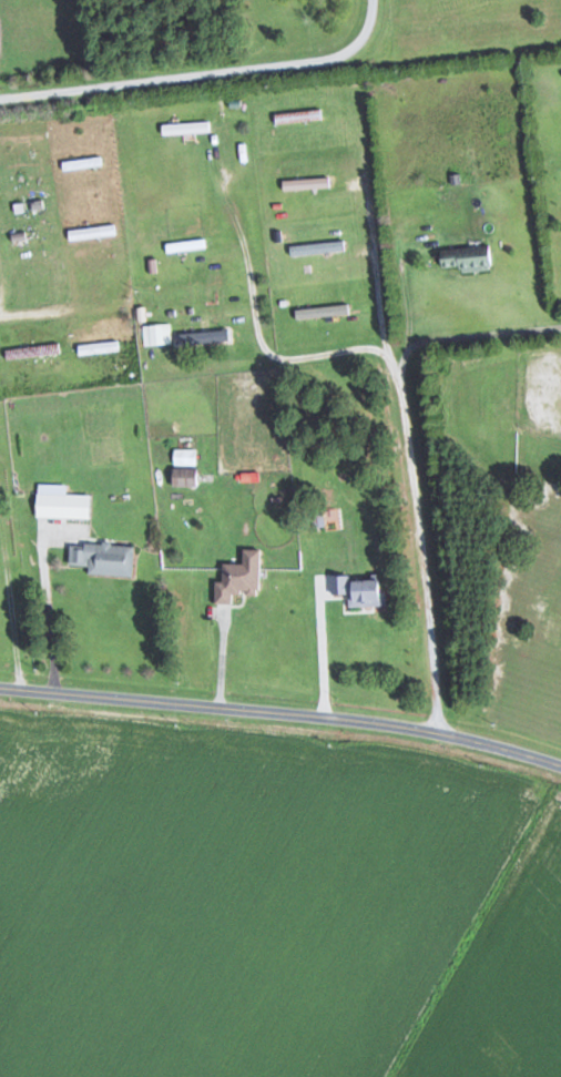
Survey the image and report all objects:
road: (217, 73)
building: (297, 115)
building: (186, 126)
building: (83, 162)
building: (305, 183)
building: (93, 231)
building: (186, 245)
building: (316, 247)
building: (468, 257)
road: (236, 291)
building: (201, 334)
road: (456, 337)
building: (99, 347)
building: (185, 456)
building: (186, 477)
building: (61, 501)
road: (366, 536)
building: (103, 558)
building: (239, 577)
building: (363, 590)
road: (282, 713)

